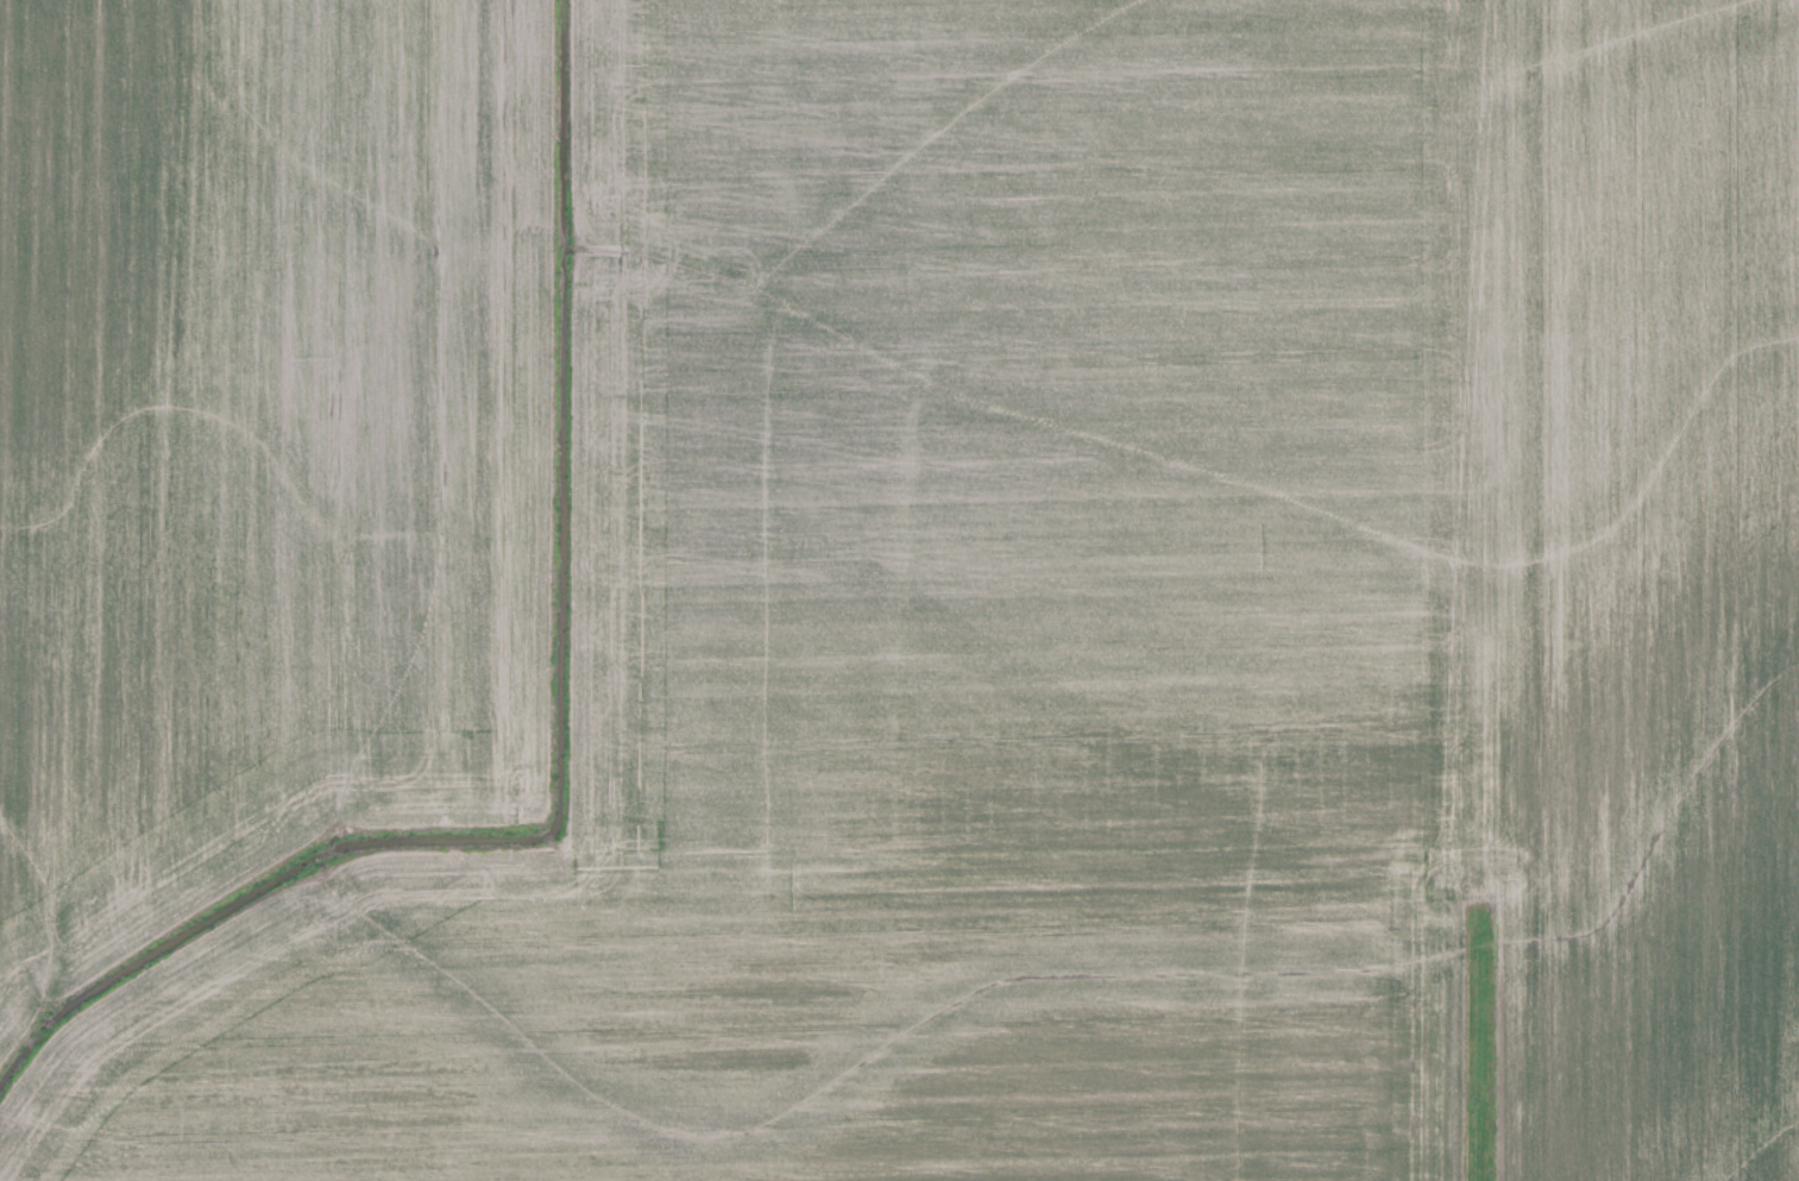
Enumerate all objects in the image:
airport runway: (1463, 439)
airport runway: (1466, 1030)

